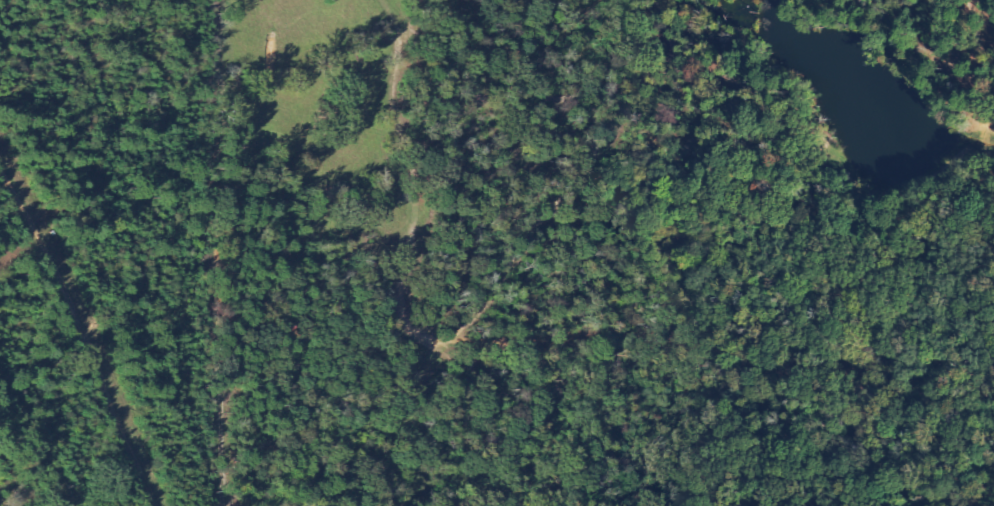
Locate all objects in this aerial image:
road: (936, 173)
road: (979, 185)
road: (772, 366)

